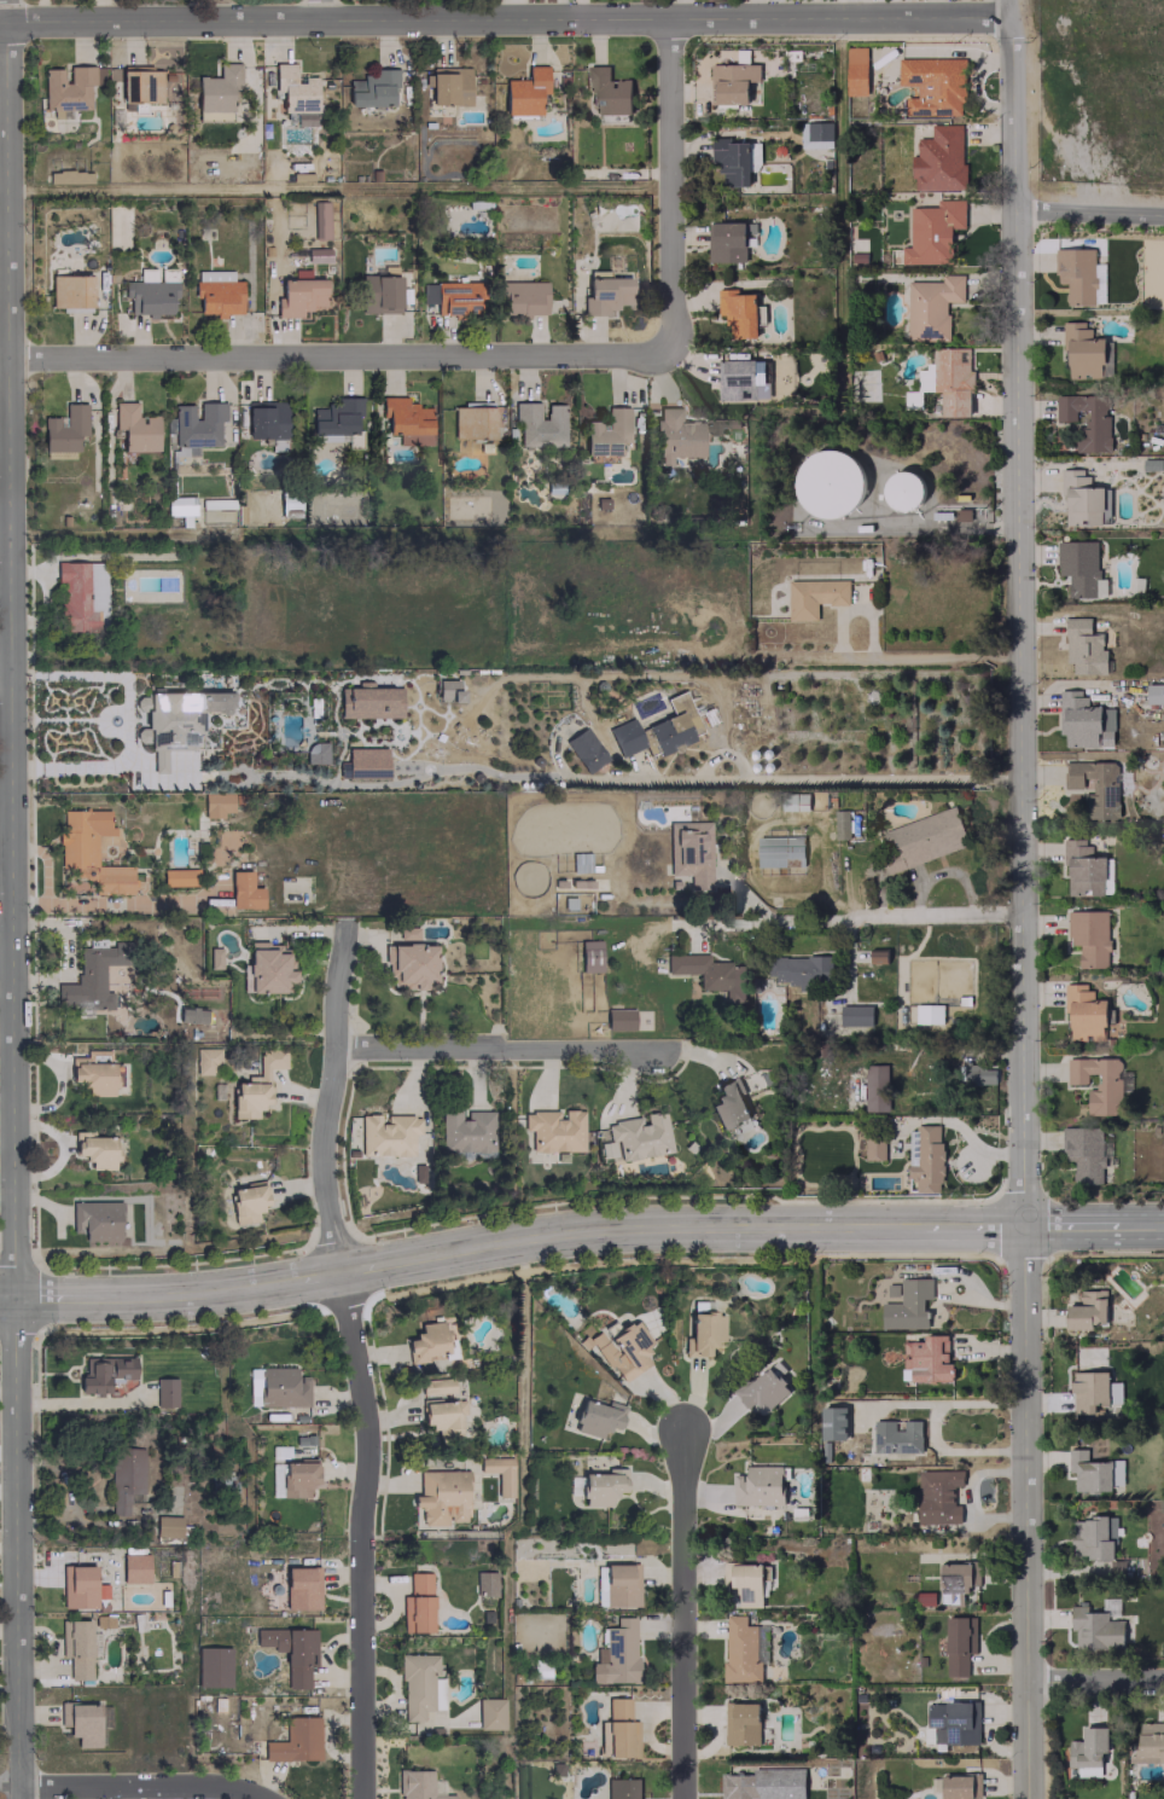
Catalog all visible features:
road: (1005, 7)
road: (324, 8)
road: (502, 16)
road: (4, 22)
building: (855, 70)
building: (140, 83)
building: (735, 83)
building: (932, 85)
building: (447, 86)
building: (68, 88)
building: (371, 88)
building: (292, 89)
building: (607, 91)
building: (216, 92)
building: (524, 92)
building: (815, 134)
building: (753, 156)
building: (939, 158)
building: (731, 161)
road: (2, 173)
building: (68, 176)
road: (670, 184)
road: (338, 187)
road: (1089, 213)
building: (319, 220)
building: (932, 231)
building: (318, 255)
building: (167, 273)
building: (1079, 275)
building: (69, 290)
building: (216, 292)
building: (149, 294)
building: (298, 294)
building: (379, 294)
building: (605, 295)
building: (456, 297)
building: (520, 297)
building: (931, 306)
building: (739, 312)
building: (1083, 352)
road: (339, 354)
road: (2, 373)
building: (735, 379)
building: (953, 381)
building: (333, 418)
building: (1087, 418)
building: (264, 419)
building: (406, 420)
building: (471, 422)
building: (539, 424)
building: (196, 426)
building: (63, 428)
building: (134, 428)
building: (605, 431)
building: (683, 434)
building: (831, 483)
storage tank: (831, 483)
building: (904, 491)
storage tank: (904, 491)
building: (1084, 500)
building: (287, 503)
building: (179, 505)
building: (1079, 568)
building: (814, 596)
road: (859, 610)
road: (1018, 617)
building: (1084, 648)
road: (889, 657)
road: (4, 669)
road: (8, 671)
road: (644, 675)
road: (111, 678)
building: (447, 690)
building: (1154, 694)
building: (368, 701)
building: (1082, 719)
building: (173, 720)
building: (669, 733)
building: (624, 737)
building: (584, 749)
building: (314, 753)
road: (708, 759)
building: (365, 761)
road: (511, 777)
building: (1094, 787)
building: (215, 803)
building: (840, 824)
building: (921, 838)
building: (780, 851)
building: (688, 852)
building: (88, 853)
building: (1083, 869)
building: (177, 877)
building: (229, 888)
road: (768, 916)
building: (1163, 916)
building: (406, 933)
building: (1089, 936)
building: (878, 954)
building: (589, 956)
building: (213, 957)
building: (408, 964)
building: (799, 969)
building: (708, 973)
building: (92, 977)
building: (929, 1012)
building: (1083, 1012)
building: (855, 1014)
building: (190, 1015)
building: (618, 1019)
road: (490, 1048)
building: (205, 1061)
building: (978, 1073)
building: (92, 1075)
building: (1098, 1083)
building: (255, 1085)
building: (875, 1087)
building: (727, 1105)
building: (553, 1130)
building: (465, 1131)
building: (386, 1133)
building: (639, 1134)
building: (874, 1147)
building: (912, 1147)
building: (1086, 1153)
building: (927, 1160)
building: (418, 1172)
building: (246, 1201)
building: (95, 1219)
road: (1079, 1221)
road: (1150, 1221)
road: (971, 1223)
road: (682, 1226)
road: (392, 1260)
road: (273, 1281)
road: (163, 1295)
road: (6, 1299)
road: (65, 1299)
building: (908, 1304)
building: (1087, 1310)
building: (702, 1333)
building: (425, 1341)
building: (622, 1350)
road: (354, 1356)
building: (927, 1358)
building: (104, 1373)
building: (435, 1386)
building: (280, 1387)
building: (763, 1388)
building: (1088, 1391)
building: (164, 1392)
building: (440, 1417)
building: (596, 1417)
building: (832, 1422)
road: (931, 1427)
building: (896, 1435)
building: (1093, 1472)
building: (497, 1473)
building: (124, 1478)
building: (296, 1478)
building: (757, 1485)
building: (600, 1487)
building: (937, 1495)
building: (441, 1496)
road: (1026, 1510)
building: (165, 1526)
building: (1092, 1537)
road: (14, 1549)
building: (133, 1567)
building: (956, 1580)
building: (483, 1583)
building: (745, 1584)
building: (78, 1586)
building: (301, 1588)
building: (415, 1603)
road: (683, 1615)
building: (1095, 1629)
building: (956, 1646)
building: (75, 1647)
building: (744, 1649)
building: (287, 1652)
building: (615, 1654)
building: (211, 1666)
road: (1096, 1677)
building: (419, 1685)
building: (489, 1713)
building: (83, 1722)
building: (953, 1722)
building: (741, 1723)
building: (615, 1729)
building: (295, 1740)
building: (1148, 1741)
building: (1088, 1747)
building: (763, 1783)
road: (8, 1785)
road: (138, 1786)
building: (417, 1786)
building: (960, 1786)
building: (622, 1788)

